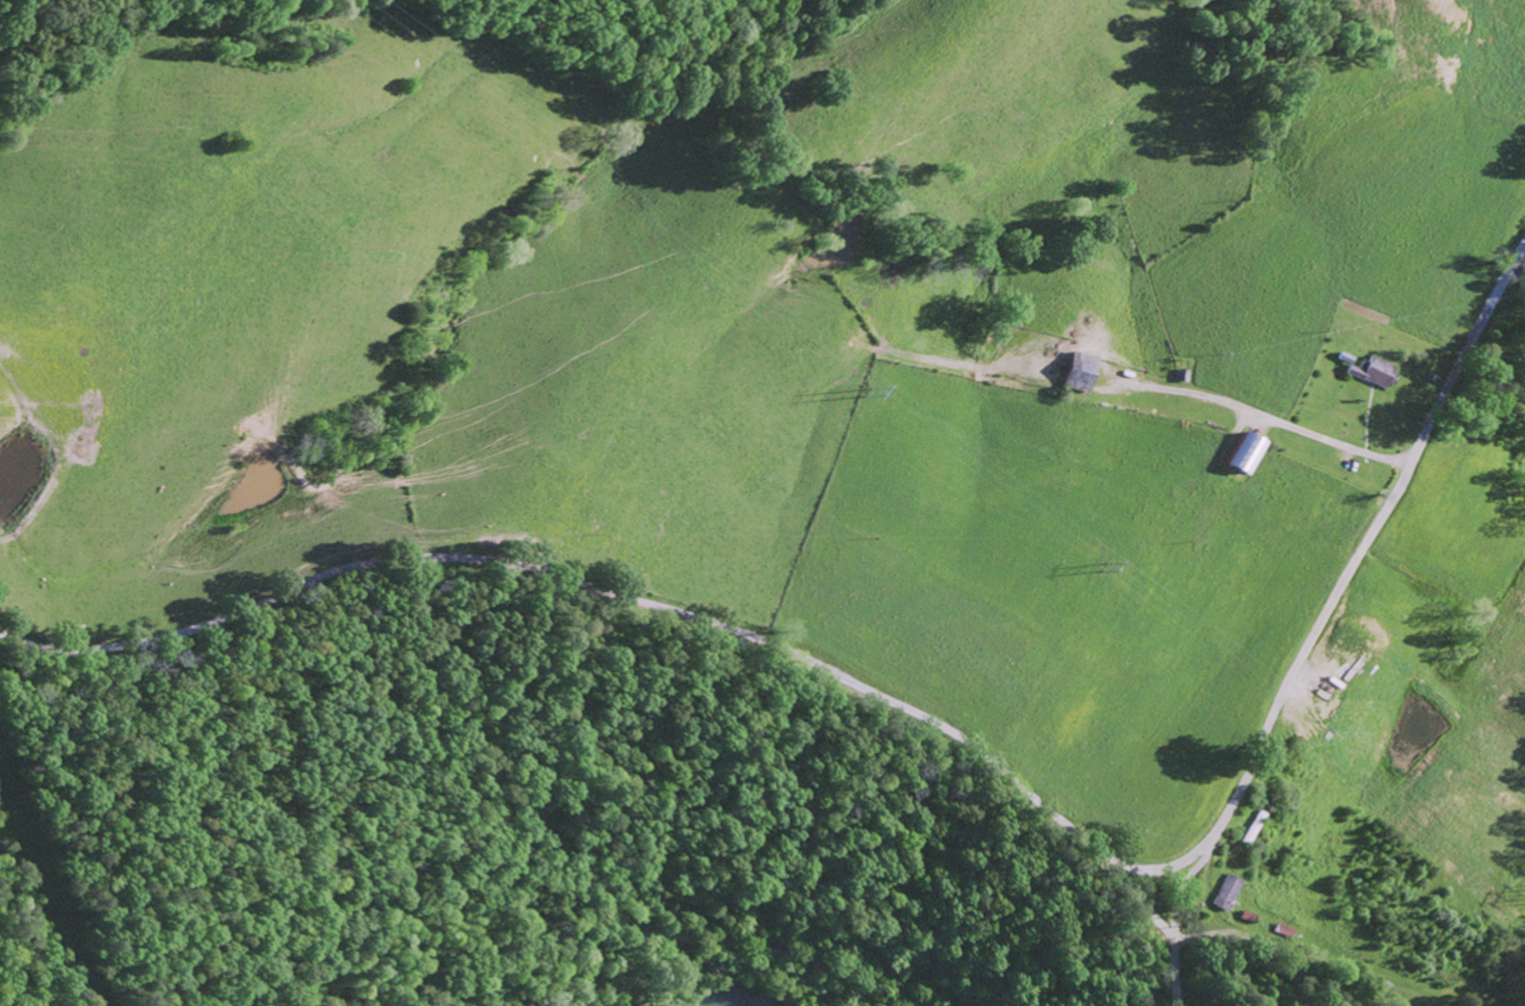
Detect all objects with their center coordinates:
building: (1085, 371)
building: (1376, 371)
power tower: (856, 392)
road: (1265, 417)
building: (1247, 451)
power tower: (1087, 568)
road: (939, 726)
building: (1228, 892)
road: (1176, 908)
road: (655, 933)
park: (1461, 983)

